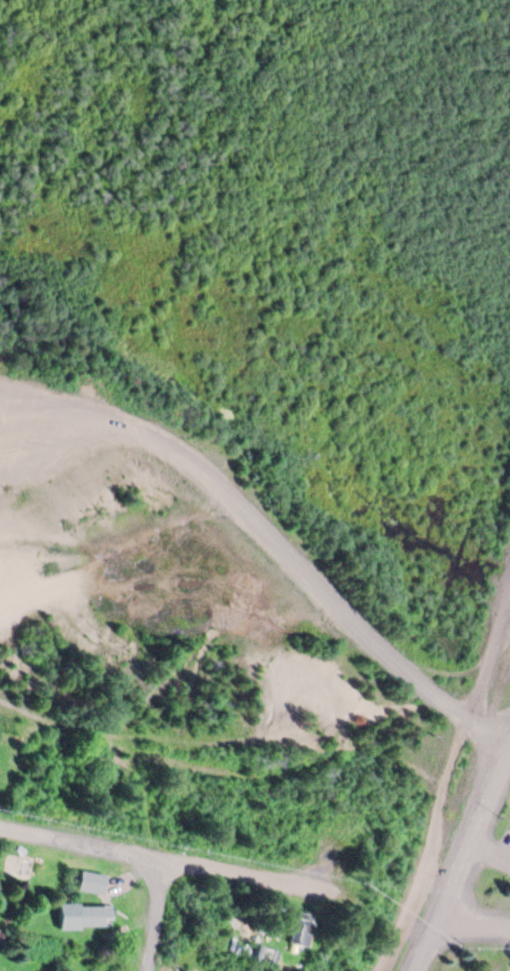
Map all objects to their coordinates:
road: (47, 409)
road: (47, 431)
parking lot: (34, 435)
road: (305, 577)
road: (446, 781)
road: (160, 849)
parking lot: (500, 851)
road: (489, 854)
road: (460, 859)
building: (89, 879)
road: (160, 911)
building: (81, 912)
building: (289, 924)
road: (470, 927)
building: (262, 953)

